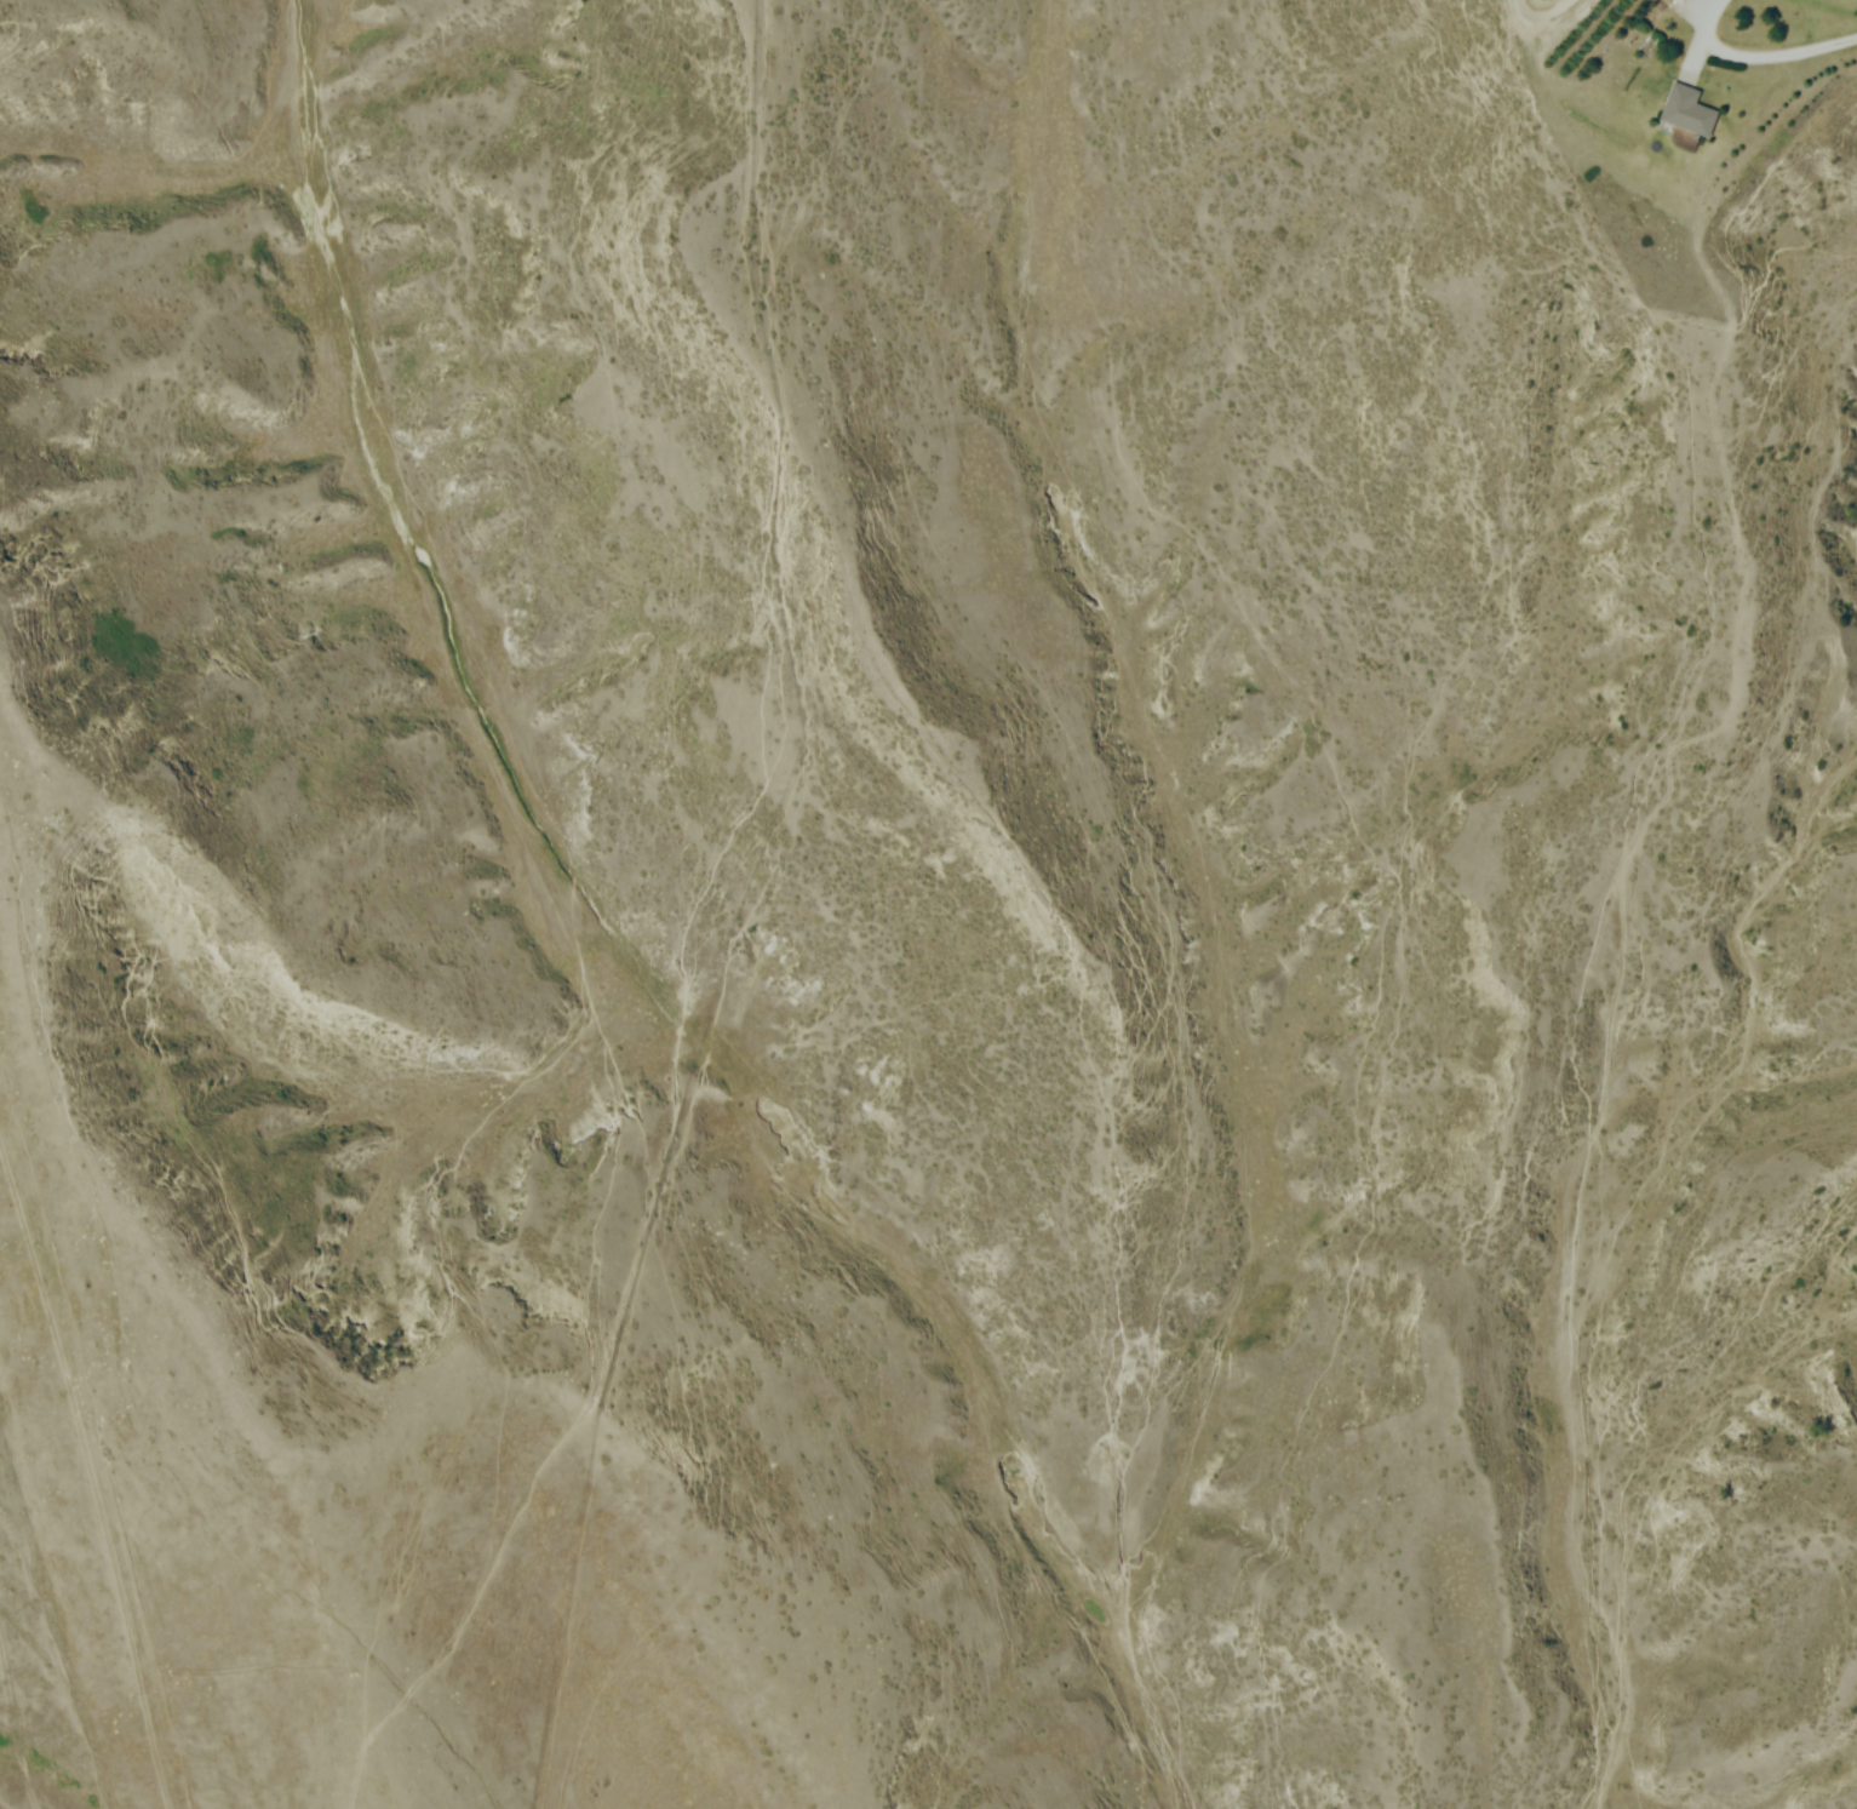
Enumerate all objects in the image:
building: (1681, 0)
road: (1759, 59)
building: (1687, 111)

